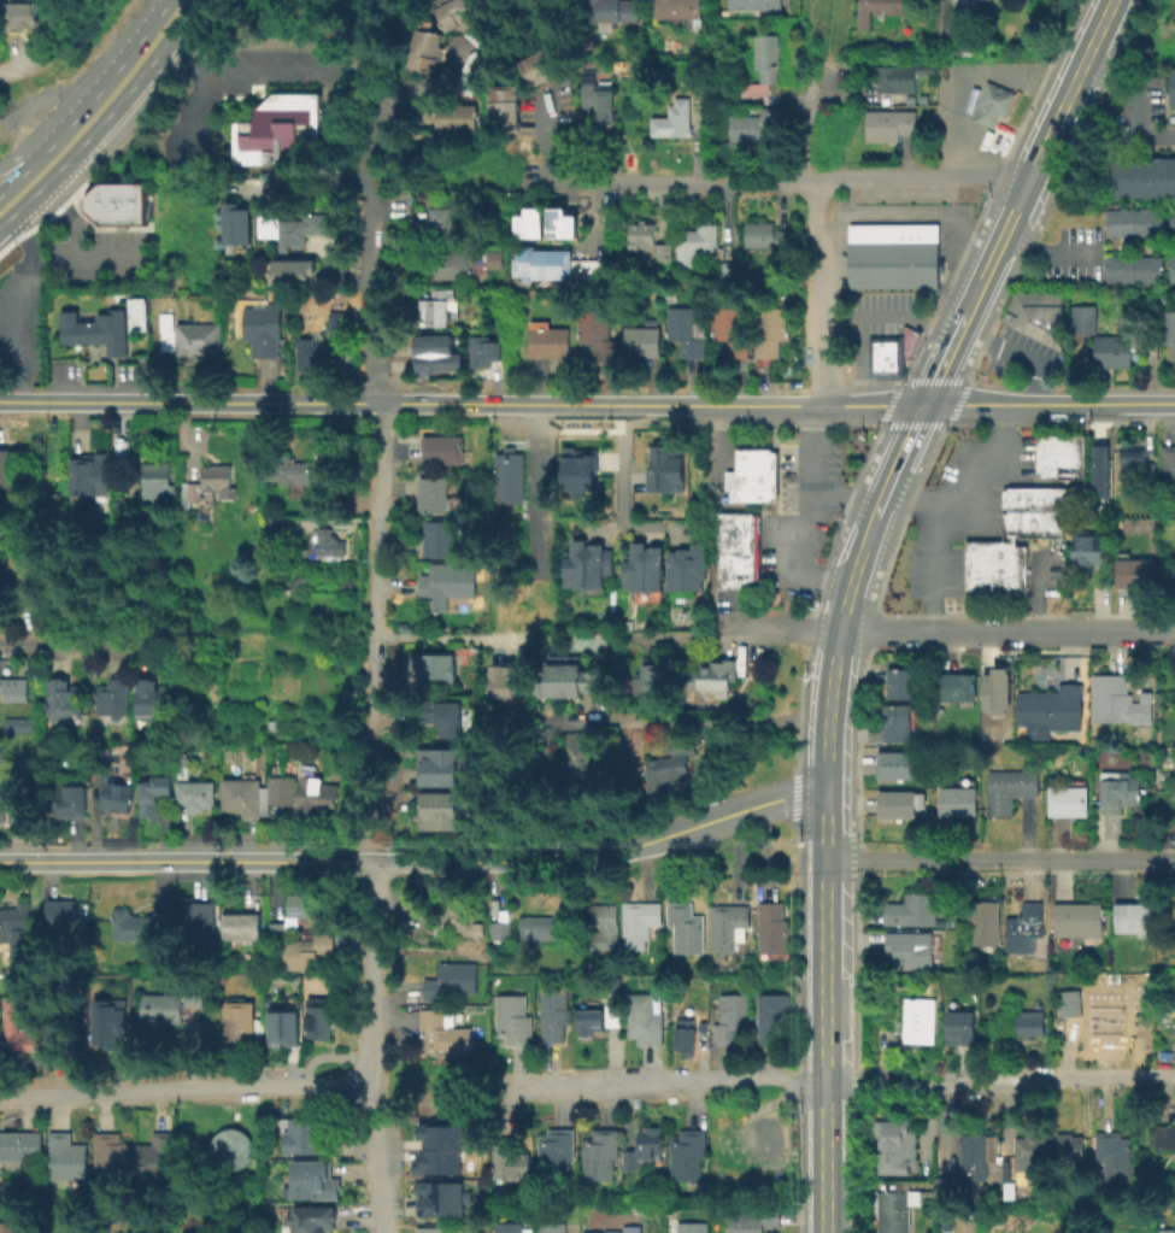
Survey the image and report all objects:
building: (753, 4)
building: (965, 4)
road: (816, 5)
building: (615, 8)
building: (681, 10)
building: (465, 11)
building: (879, 11)
building: (18, 13)
building: (447, 16)
building: (941, 18)
building: (425, 40)
building: (964, 43)
road: (806, 52)
building: (920, 54)
building: (422, 59)
building: (544, 64)
road: (13, 66)
building: (927, 66)
building: (762, 69)
road: (233, 70)
road: (125, 71)
building: (895, 78)
building: (1170, 83)
road: (429, 86)
building: (601, 95)
building: (991, 102)
road: (1136, 102)
building: (505, 108)
road: (189, 112)
building: (446, 117)
building: (466, 117)
building: (675, 119)
building: (756, 124)
building: (888, 124)
building: (275, 129)
building: (628, 135)
road: (803, 139)
road: (34, 151)
road: (1039, 157)
road: (35, 174)
building: (1139, 176)
road: (780, 183)
road: (316, 184)
building: (116, 202)
building: (565, 216)
building: (534, 217)
road: (594, 217)
road: (951, 217)
building: (237, 218)
building: (1132, 221)
building: (1171, 221)
building: (435, 224)
building: (293, 227)
building: (768, 236)
building: (648, 241)
road: (74, 242)
building: (698, 242)
road: (371, 253)
building: (892, 254)
building: (494, 259)
building: (456, 263)
building: (557, 263)
building: (293, 266)
building: (1132, 268)
building: (1170, 268)
building: (729, 272)
road: (17, 290)
road: (821, 292)
building: (439, 307)
building: (140, 312)
building: (1034, 315)
road: (866, 316)
building: (1083, 318)
building: (340, 319)
building: (262, 324)
building: (1168, 328)
building: (99, 329)
building: (732, 329)
building: (772, 329)
building: (687, 330)
building: (600, 333)
building: (190, 335)
building: (552, 339)
building: (644, 340)
building: (437, 348)
building: (484, 348)
building: (1112, 350)
building: (317, 352)
road: (1016, 353)
building: (883, 356)
road: (944, 358)
road: (188, 401)
road: (1050, 401)
road: (598, 403)
traffic signals: (926, 403)
road: (871, 404)
building: (441, 448)
building: (1058, 454)
building: (1134, 462)
building: (1168, 463)
building: (581, 466)
building: (1103, 468)
building: (668, 469)
building: (288, 470)
building: (4, 471)
building: (88, 472)
building: (510, 475)
building: (750, 475)
road: (893, 476)
building: (159, 478)
building: (208, 481)
road: (621, 491)
building: (433, 494)
road: (913, 497)
building: (1034, 497)
road: (846, 498)
road: (939, 507)
road: (798, 522)
road: (969, 522)
building: (1027, 522)
building: (278, 523)
building: (736, 524)
building: (35, 528)
building: (439, 538)
road: (1006, 538)
building: (1174, 538)
road: (1026, 540)
building: (329, 542)
building: (1087, 548)
building: (736, 550)
building: (992, 550)
building: (588, 562)
building: (644, 565)
building: (687, 565)
building: (993, 568)
building: (1133, 571)
road: (375, 575)
building: (736, 575)
building: (31, 576)
building: (1167, 577)
building: (450, 582)
building: (993, 586)
road: (1034, 592)
road: (739, 634)
road: (977, 634)
road: (1145, 635)
road: (448, 639)
road: (72, 645)
building: (1, 660)
building: (431, 663)
road: (832, 671)
building: (715, 674)
building: (572, 677)
building: (505, 679)
building: (651, 679)
building: (904, 682)
building: (958, 685)
building: (11, 688)
building: (993, 691)
building: (146, 695)
building: (112, 697)
building: (59, 698)
building: (1116, 699)
building: (1051, 706)
building: (441, 714)
road: (698, 718)
building: (898, 721)
building: (16, 723)
building: (582, 759)
building: (439, 764)
building: (897, 764)
building: (671, 765)
road: (364, 782)
building: (1009, 787)
building: (281, 788)
building: (315, 792)
building: (1116, 792)
building: (196, 793)
building: (151, 794)
building: (116, 795)
building: (243, 795)
building: (958, 799)
building: (1067, 799)
building: (66, 800)
building: (897, 803)
road: (389, 806)
building: (12, 808)
building: (437, 809)
road: (363, 840)
road: (417, 861)
road: (1000, 861)
building: (911, 909)
building: (296, 910)
building: (60, 912)
building: (13, 917)
building: (1077, 917)
building: (1134, 917)
building: (465, 918)
building: (982, 920)
building: (639, 921)
building: (199, 923)
building: (727, 923)
building: (137, 924)
building: (241, 924)
building: (541, 926)
building: (686, 926)
building: (772, 926)
building: (1023, 926)
building: (609, 928)
building: (470, 929)
building: (500, 929)
building: (306, 950)
building: (907, 950)
road: (370, 974)
building: (1101, 976)
building: (451, 979)
building: (613, 981)
building: (1068, 1003)
building: (170, 1004)
building: (553, 1011)
building: (611, 1014)
road: (827, 1014)
building: (317, 1016)
building: (771, 1016)
building: (732, 1017)
building: (512, 1018)
building: (644, 1018)
building: (918, 1018)
building: (1105, 1018)
building: (106, 1020)
building: (589, 1020)
building: (240, 1021)
building: (1029, 1022)
building: (281, 1027)
building: (957, 1027)
building: (33, 1028)
building: (442, 1032)
building: (685, 1032)
building: (1174, 1035)
road: (184, 1088)
road: (839, 1088)
building: (306, 1135)
building: (440, 1135)
building: (1165, 1137)
building: (766, 1140)
building: (1068, 1145)
building: (642, 1146)
building: (894, 1146)
building: (12, 1149)
building: (229, 1149)
building: (977, 1150)
building: (1030, 1151)
building: (556, 1152)
building: (600, 1152)
building: (1114, 1153)
building: (65, 1155)
building: (687, 1155)
building: (155, 1156)
building: (111, 1158)
road: (377, 1159)
building: (512, 1159)
building: (436, 1162)
building: (311, 1181)
building: (941, 1185)
building: (437, 1198)
building: (891, 1211)
building: (309, 1217)
building: (756, 1219)
building: (509, 1227)
building: (552, 1227)
building: (692, 1227)
building: (634, 1228)
building: (8, 1229)
building: (434, 1229)
building: (1167, 1229)
building: (605, 1231)

